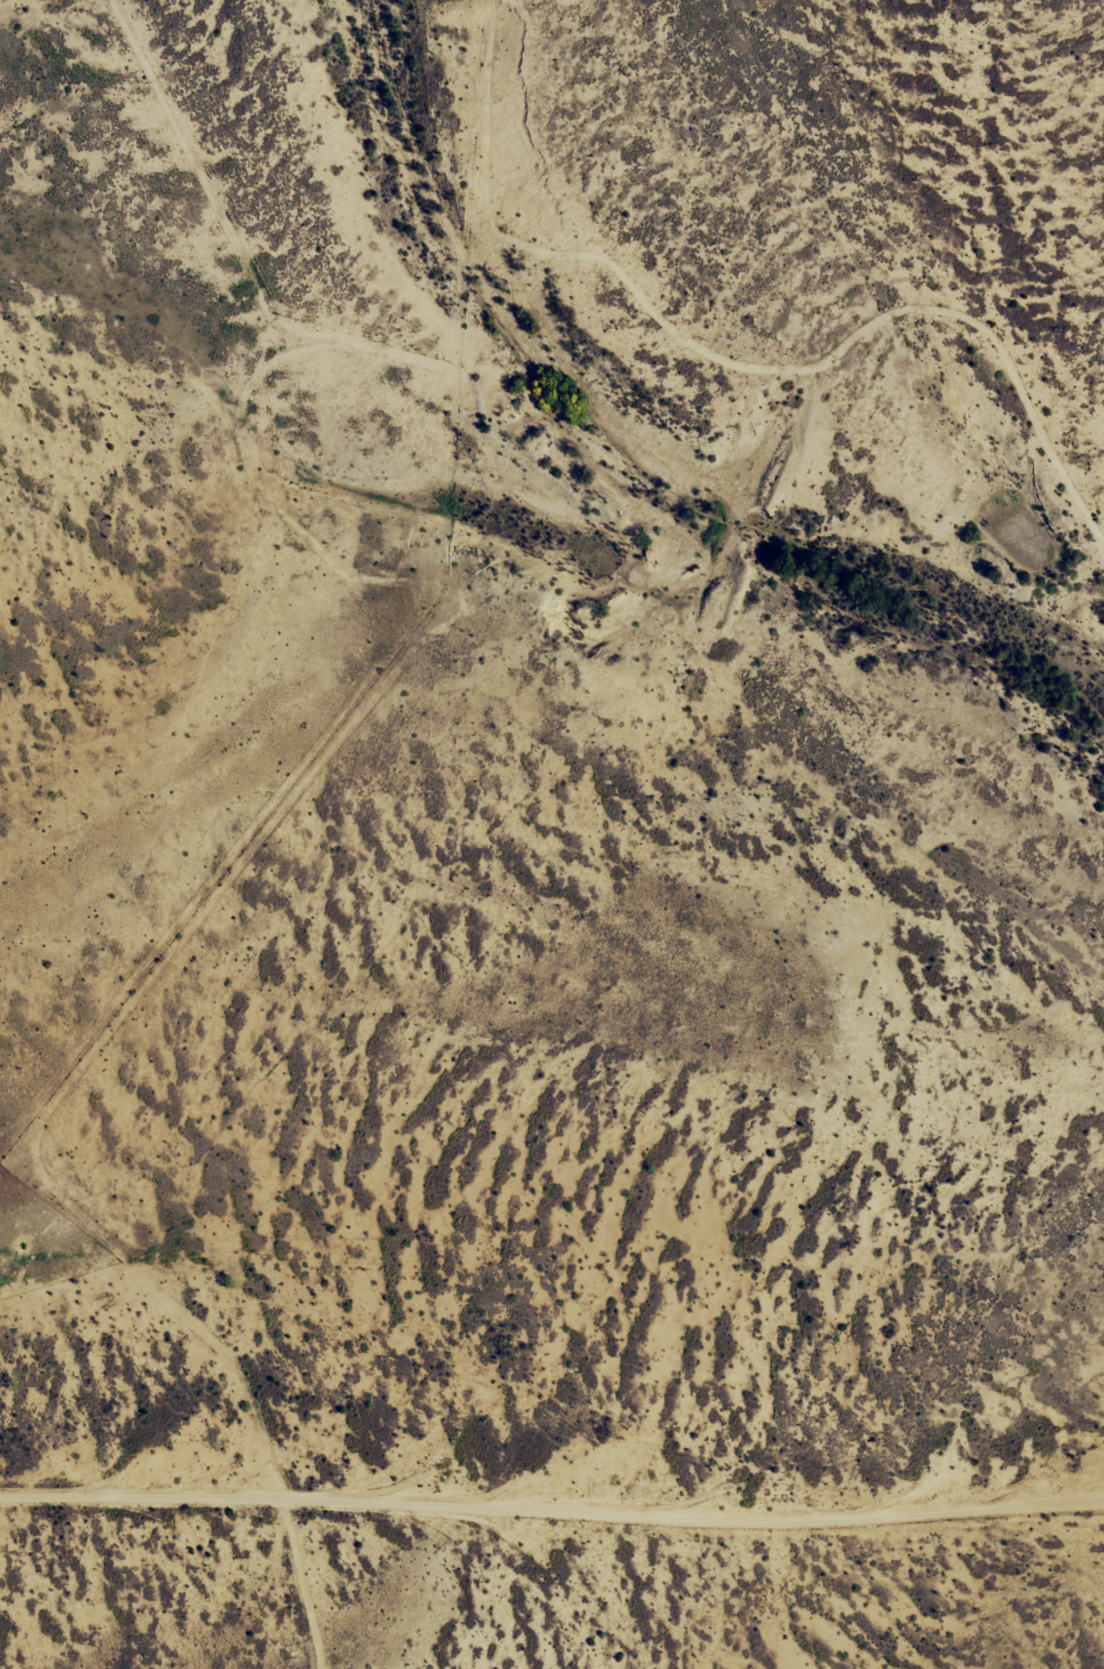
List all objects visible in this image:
road: (554, 1519)
road: (1063, 1581)

